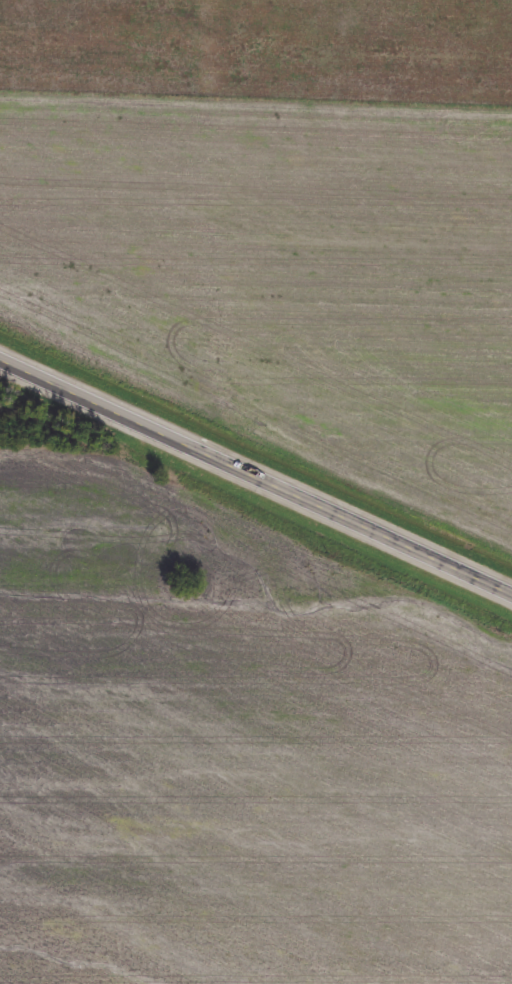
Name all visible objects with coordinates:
railway: (256, 450)
road: (255, 470)

